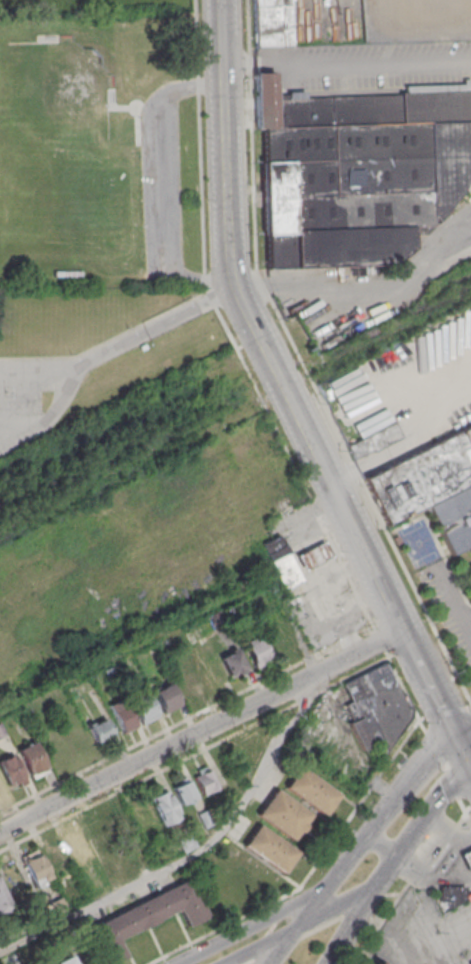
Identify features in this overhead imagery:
building: (274, 23)
road: (221, 43)
building: (364, 55)
road: (346, 64)
park: (55, 118)
park: (98, 151)
building: (358, 172)
road: (160, 182)
parking lot: (161, 190)
road: (190, 309)
road: (347, 330)
road: (304, 363)
road: (39, 367)
road: (69, 383)
parking lot: (26, 388)
road: (300, 420)
building: (374, 442)
building: (423, 476)
building: (454, 519)
building: (314, 555)
building: (282, 562)
parking lot: (439, 589)
building: (279, 643)
road: (401, 649)
building: (257, 652)
building: (233, 663)
building: (189, 686)
building: (167, 698)
building: (378, 707)
building: (145, 710)
road: (196, 712)
road: (445, 714)
building: (122, 715)
building: (100, 730)
road: (465, 731)
building: (1, 732)
traffic signals: (460, 734)
road: (200, 735)
road: (465, 745)
road: (197, 752)
building: (33, 760)
road: (444, 765)
building: (11, 770)
building: (206, 780)
building: (1, 786)
building: (313, 791)
building: (184, 792)
road: (358, 803)
building: (164, 807)
road: (468, 810)
building: (283, 815)
road: (378, 819)
building: (120, 823)
road: (416, 823)
road: (446, 828)
building: (100, 840)
road: (380, 846)
building: (80, 848)
building: (273, 850)
road: (437, 850)
road: (190, 854)
building: (58, 857)
building: (468, 861)
building: (36, 868)
road: (431, 872)
building: (455, 896)
building: (4, 900)
road: (339, 901)
building: (147, 919)
road: (350, 925)
road: (222, 926)
parking lot: (424, 934)
road: (241, 939)
road: (264, 940)
road: (287, 940)
building: (67, 960)
building: (377, 962)
building: (469, 962)

